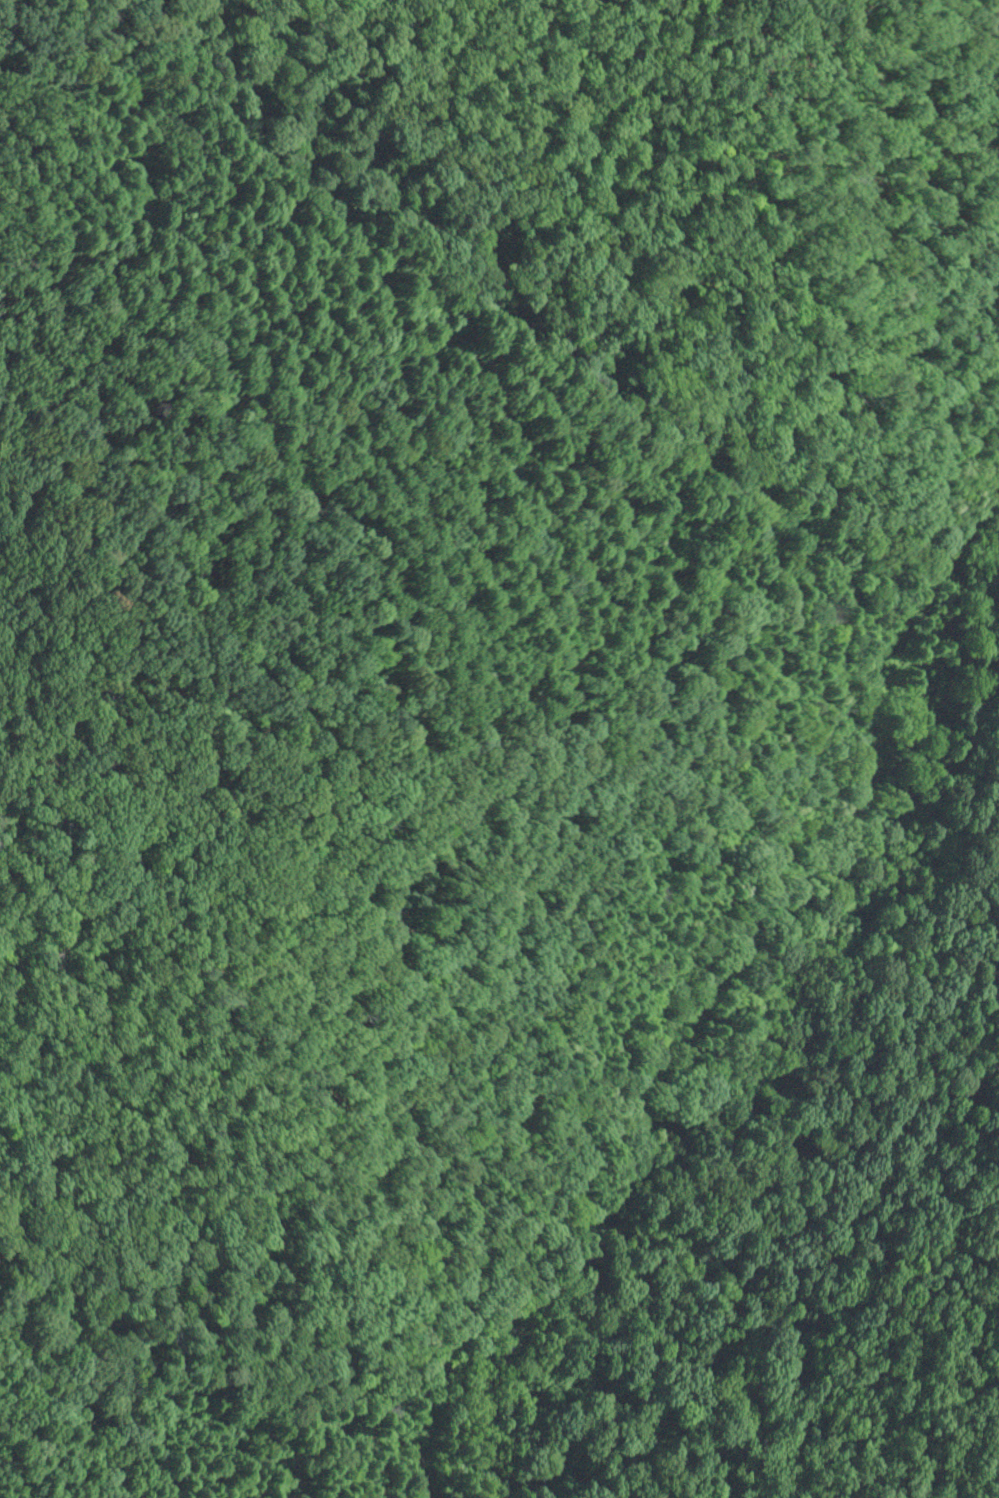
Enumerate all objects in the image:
road: (691, 953)
road: (126, 1431)

